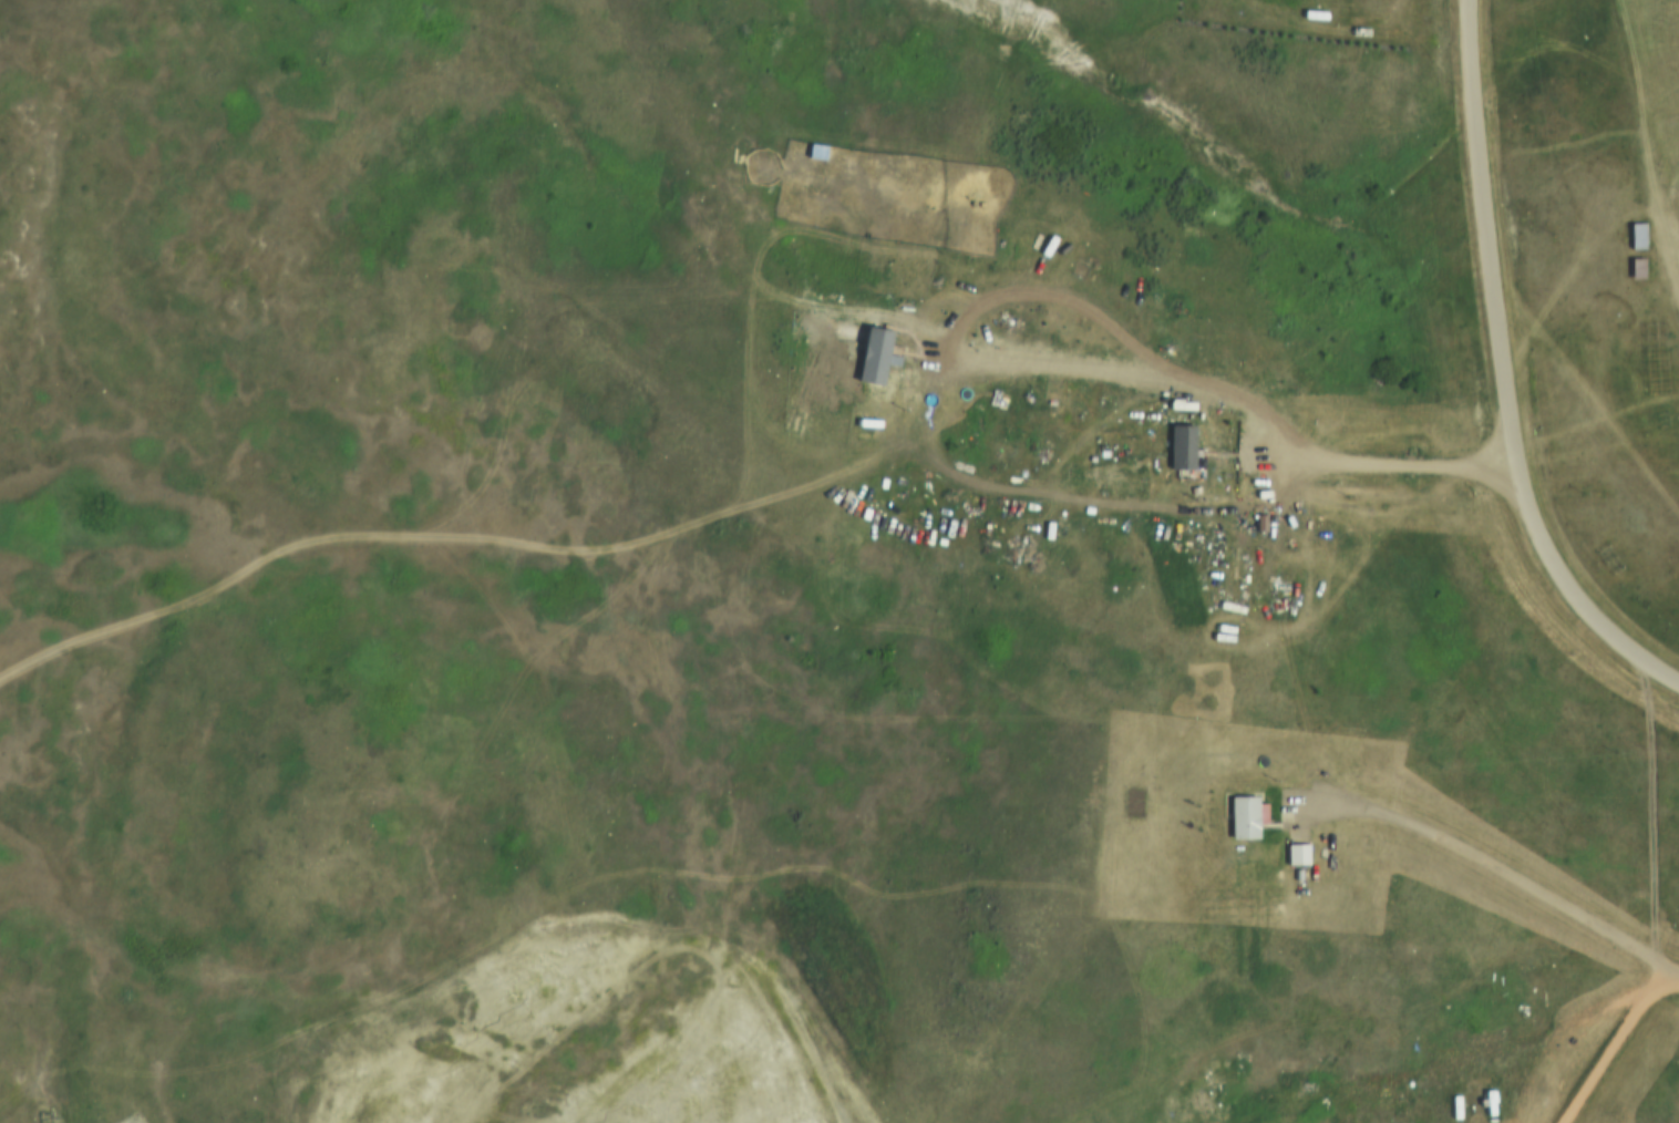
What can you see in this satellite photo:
building: (1636, 234)
road: (1503, 377)
building: (1176, 450)
building: (1246, 452)
road: (1371, 461)
building: (1240, 820)
building: (1296, 854)
road: (1487, 864)

